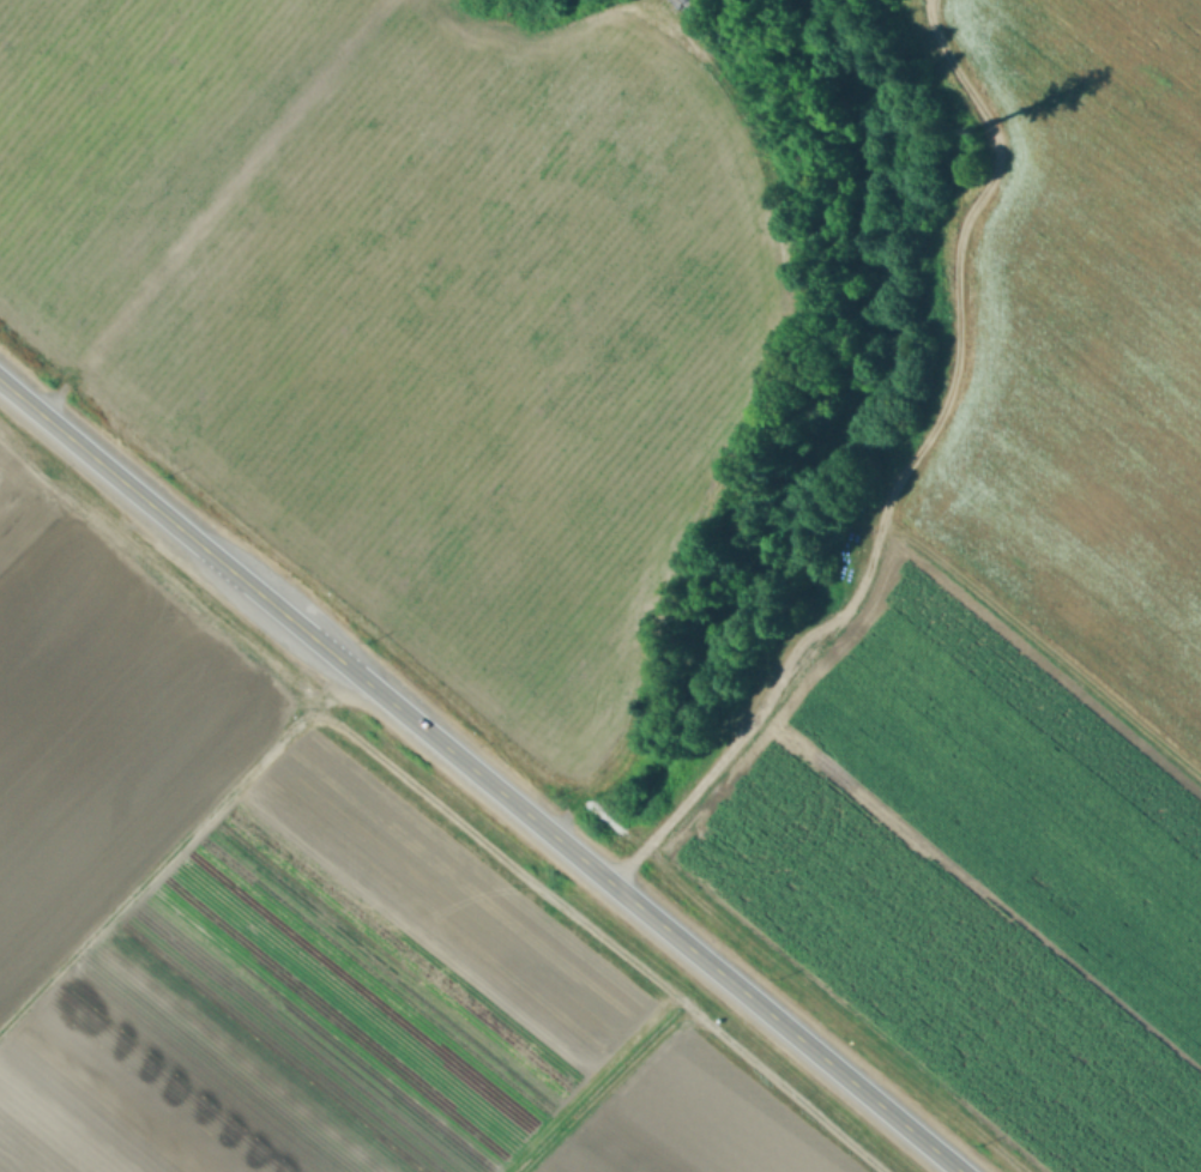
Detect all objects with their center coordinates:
crop: (698, 466)
road: (900, 470)
road: (479, 777)
crop: (308, 929)

